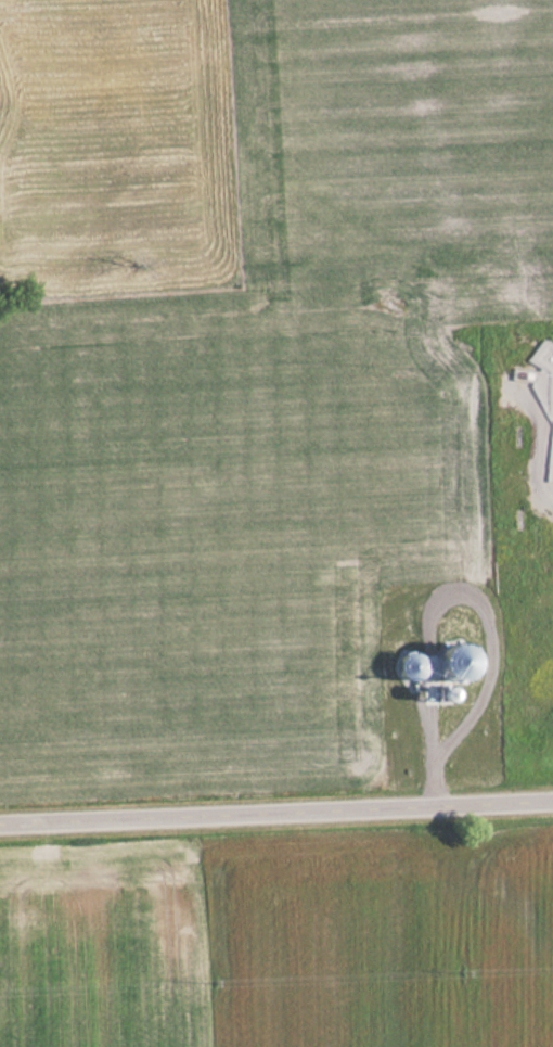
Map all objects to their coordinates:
road: (276, 820)

